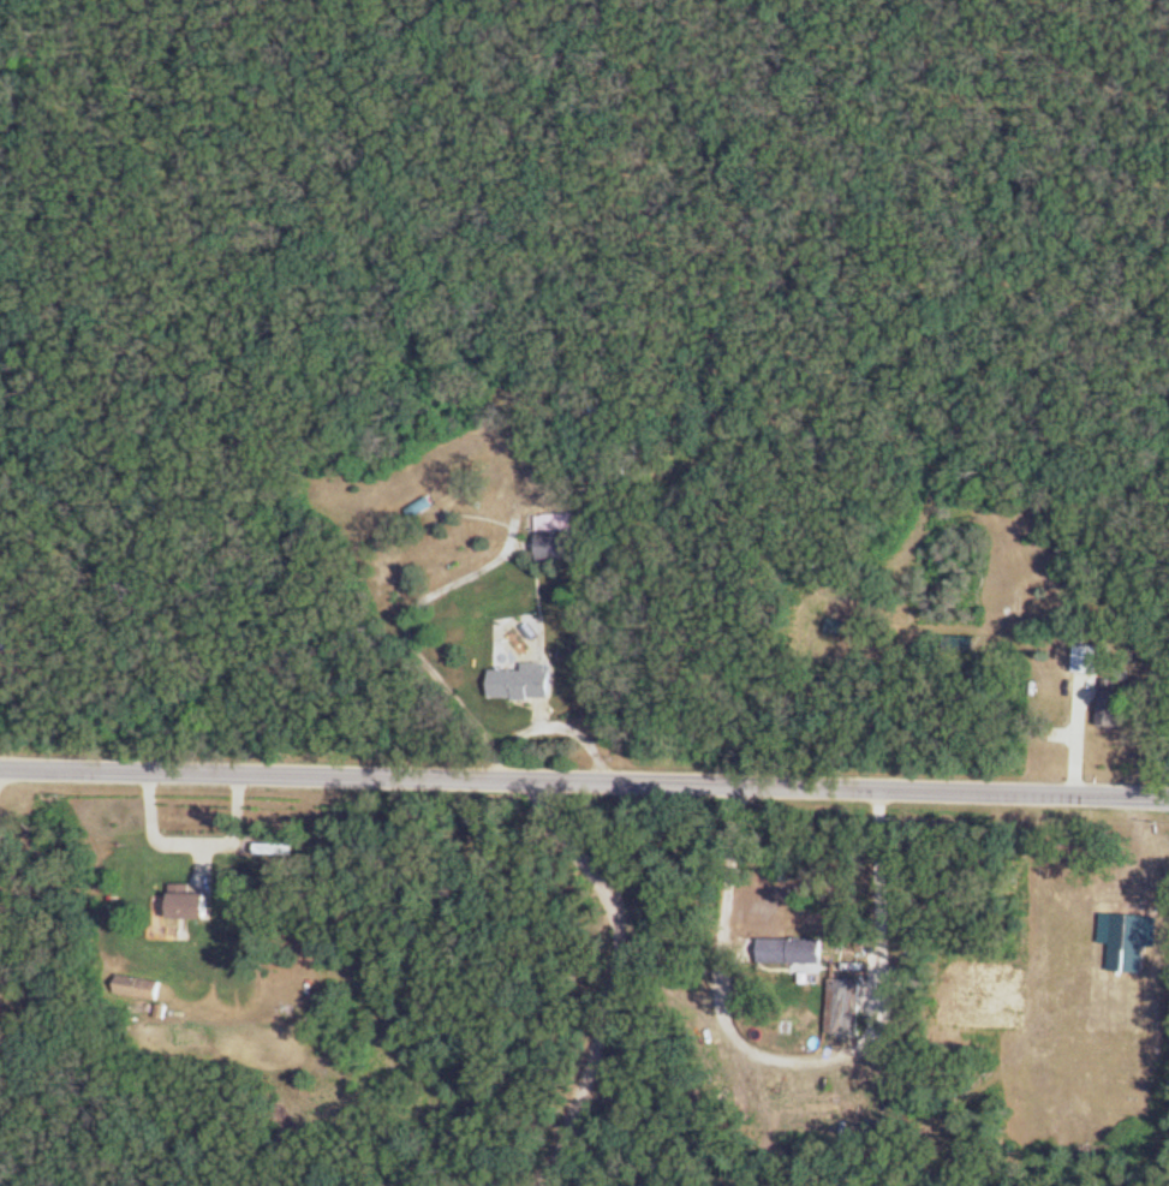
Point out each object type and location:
building: (556, 540)
building: (1087, 660)
building: (524, 684)
building: (1113, 710)
road: (1, 775)
road: (584, 781)
building: (279, 850)
road: (732, 856)
building: (190, 902)
building: (793, 952)
building: (138, 989)

